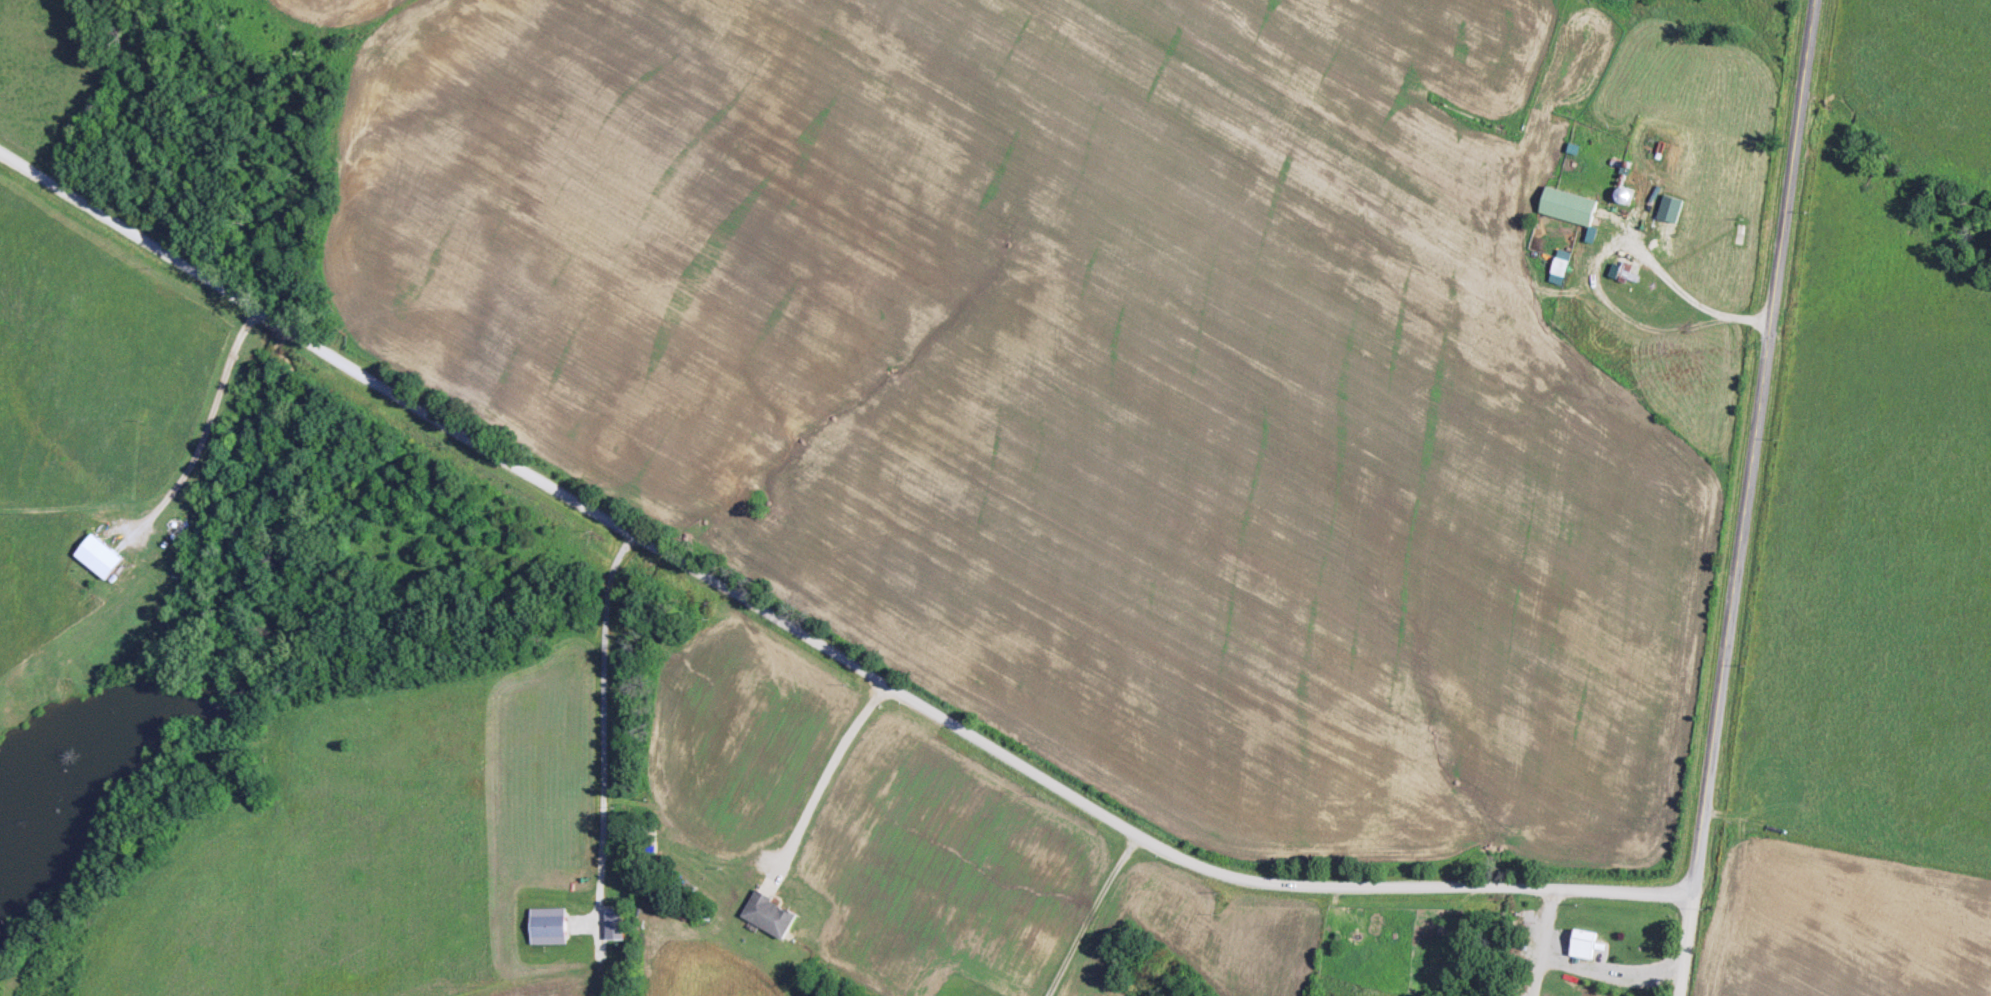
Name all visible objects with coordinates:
building: (1572, 206)
building: (1672, 208)
building: (1563, 266)
building: (1618, 270)
road: (1676, 287)
road: (207, 437)
road: (1752, 446)
building: (103, 556)
road: (811, 639)
road: (825, 788)
building: (773, 914)
building: (618, 924)
building: (552, 925)
building: (1587, 943)
road: (1685, 944)
road: (1580, 966)

